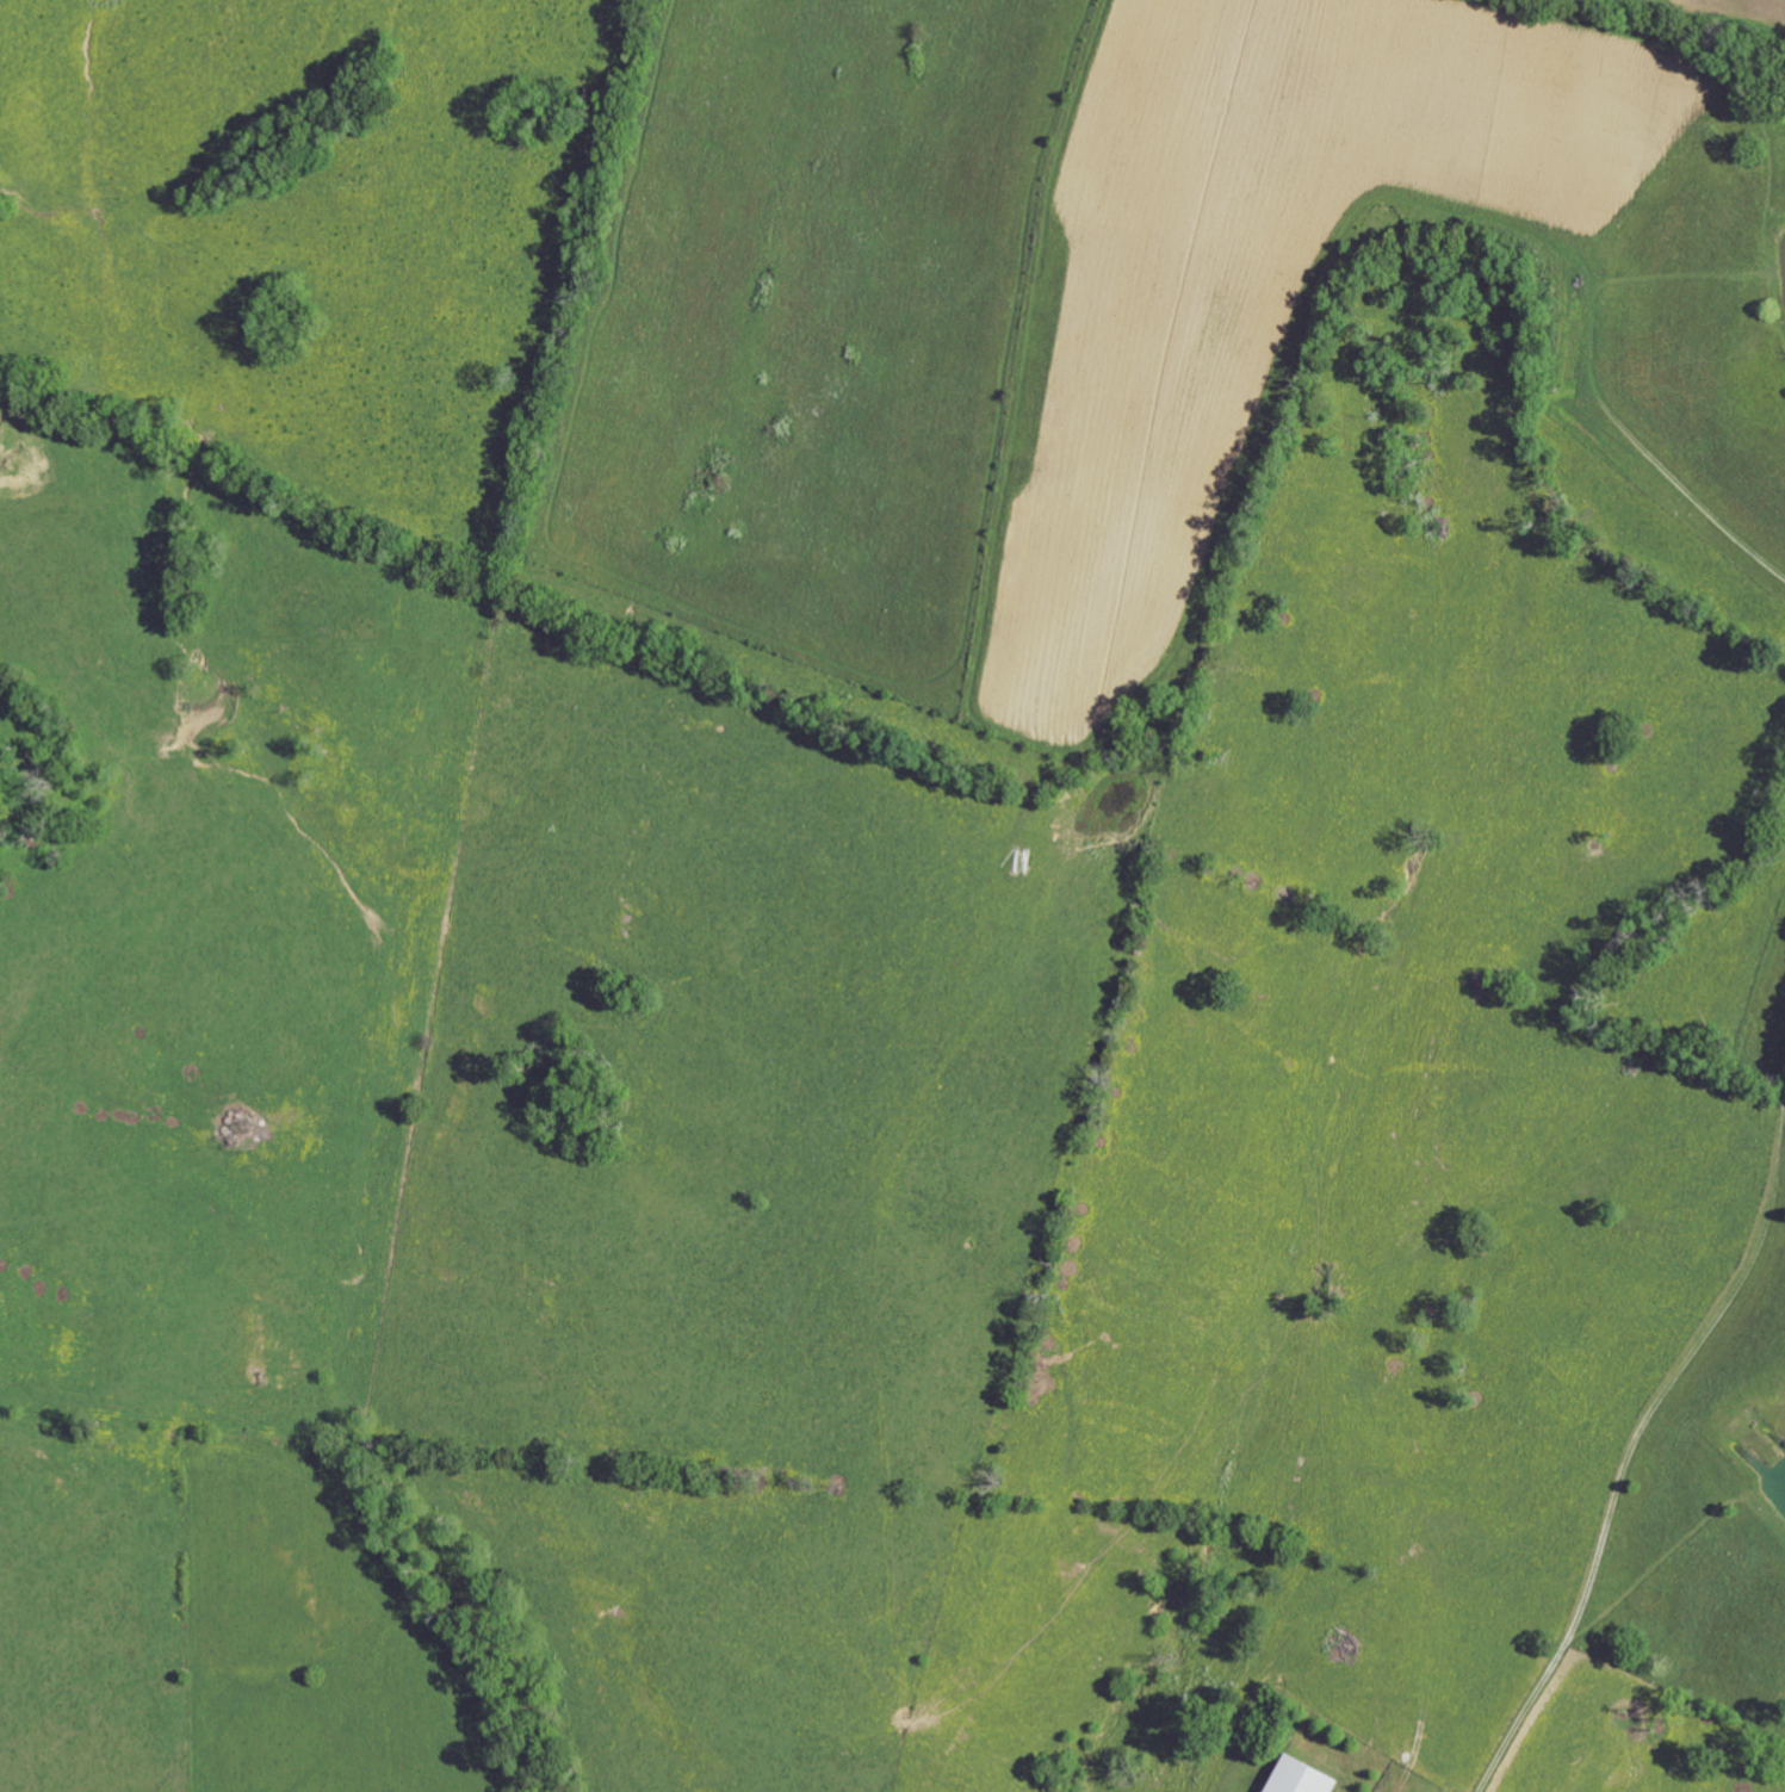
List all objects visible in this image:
building: (1302, 1777)

